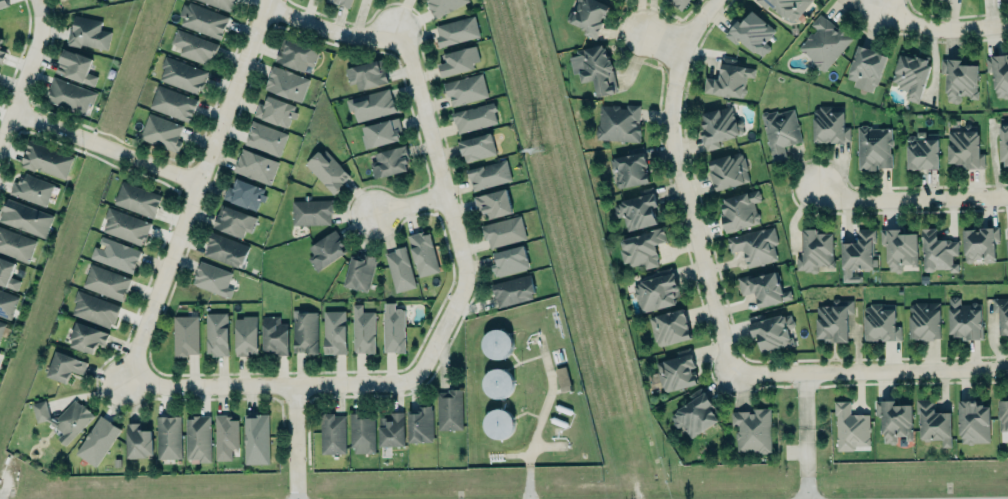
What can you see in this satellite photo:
building: (340, 2)
building: (679, 2)
building: (3, 3)
building: (220, 3)
building: (442, 6)
building: (786, 7)
building: (587, 15)
building: (202, 20)
building: (456, 29)
road: (942, 30)
road: (329, 32)
building: (88, 33)
building: (751, 33)
building: (0, 39)
road: (665, 42)
building: (824, 42)
building: (0, 44)
building: (193, 47)
building: (1, 55)
building: (296, 56)
building: (459, 60)
building: (76, 66)
building: (866, 67)
building: (593, 68)
road: (27, 72)
building: (998, 73)
building: (181, 75)
building: (366, 75)
building: (911, 75)
building: (728, 79)
building: (959, 79)
building: (285, 83)
building: (465, 89)
building: (70, 95)
building: (172, 103)
building: (370, 104)
building: (276, 110)
building: (474, 117)
building: (618, 122)
building: (828, 125)
building: (718, 126)
building: (161, 132)
building: (779, 132)
building: (381, 133)
building: (266, 138)
building: (1003, 143)
road: (106, 145)
power tower: (529, 145)
building: (476, 146)
building: (873, 147)
building: (964, 149)
building: (921, 153)
building: (46, 159)
building: (389, 161)
building: (255, 166)
road: (435, 167)
building: (327, 170)
building: (629, 170)
building: (727, 170)
building: (488, 174)
road: (684, 182)
building: (32, 189)
road: (195, 192)
building: (245, 194)
road: (913, 198)
building: (137, 199)
building: (492, 203)
road: (409, 205)
building: (739, 210)
building: (311, 211)
building: (636, 211)
building: (25, 217)
building: (233, 220)
building: (125, 226)
building: (503, 231)
building: (16, 244)
building: (979, 244)
building: (755, 245)
building: (642, 247)
building: (898, 248)
building: (226, 249)
building: (326, 250)
building: (937, 251)
building: (1007, 251)
building: (815, 252)
building: (857, 252)
building: (115, 254)
building: (424, 254)
building: (509, 260)
building: (400, 268)
building: (359, 272)
building: (7, 273)
building: (212, 278)
building: (105, 282)
building: (763, 288)
building: (512, 290)
building: (655, 292)
building: (7, 303)
building: (95, 309)
building: (1001, 313)
building: (964, 319)
building: (833, 320)
building: (923, 320)
building: (880, 322)
building: (1, 327)
building: (669, 327)
building: (393, 328)
building: (362, 330)
building: (304, 331)
building: (772, 331)
building: (334, 332)
building: (186, 334)
building: (217, 334)
building: (245, 335)
building: (87, 337)
building: (275, 337)
building: (496, 342)
storage tank: (496, 342)
building: (64, 367)
building: (676, 370)
road: (870, 372)
building: (562, 378)
building: (496, 382)
storage tank: (496, 382)
road: (310, 384)
road: (806, 399)
building: (449, 409)
building: (694, 414)
building: (1003, 414)
road: (539, 417)
building: (64, 419)
building: (895, 421)
building: (973, 421)
building: (497, 423)
storage tank: (497, 423)
building: (933, 423)
building: (420, 424)
building: (850, 427)
building: (752, 429)
building: (392, 430)
building: (362, 432)
building: (332, 433)
building: (225, 436)
building: (167, 437)
building: (197, 438)
building: (256, 439)
building: (97, 441)
building: (138, 441)
road: (297, 442)
road: (546, 445)
road: (516, 455)
road: (805, 463)

